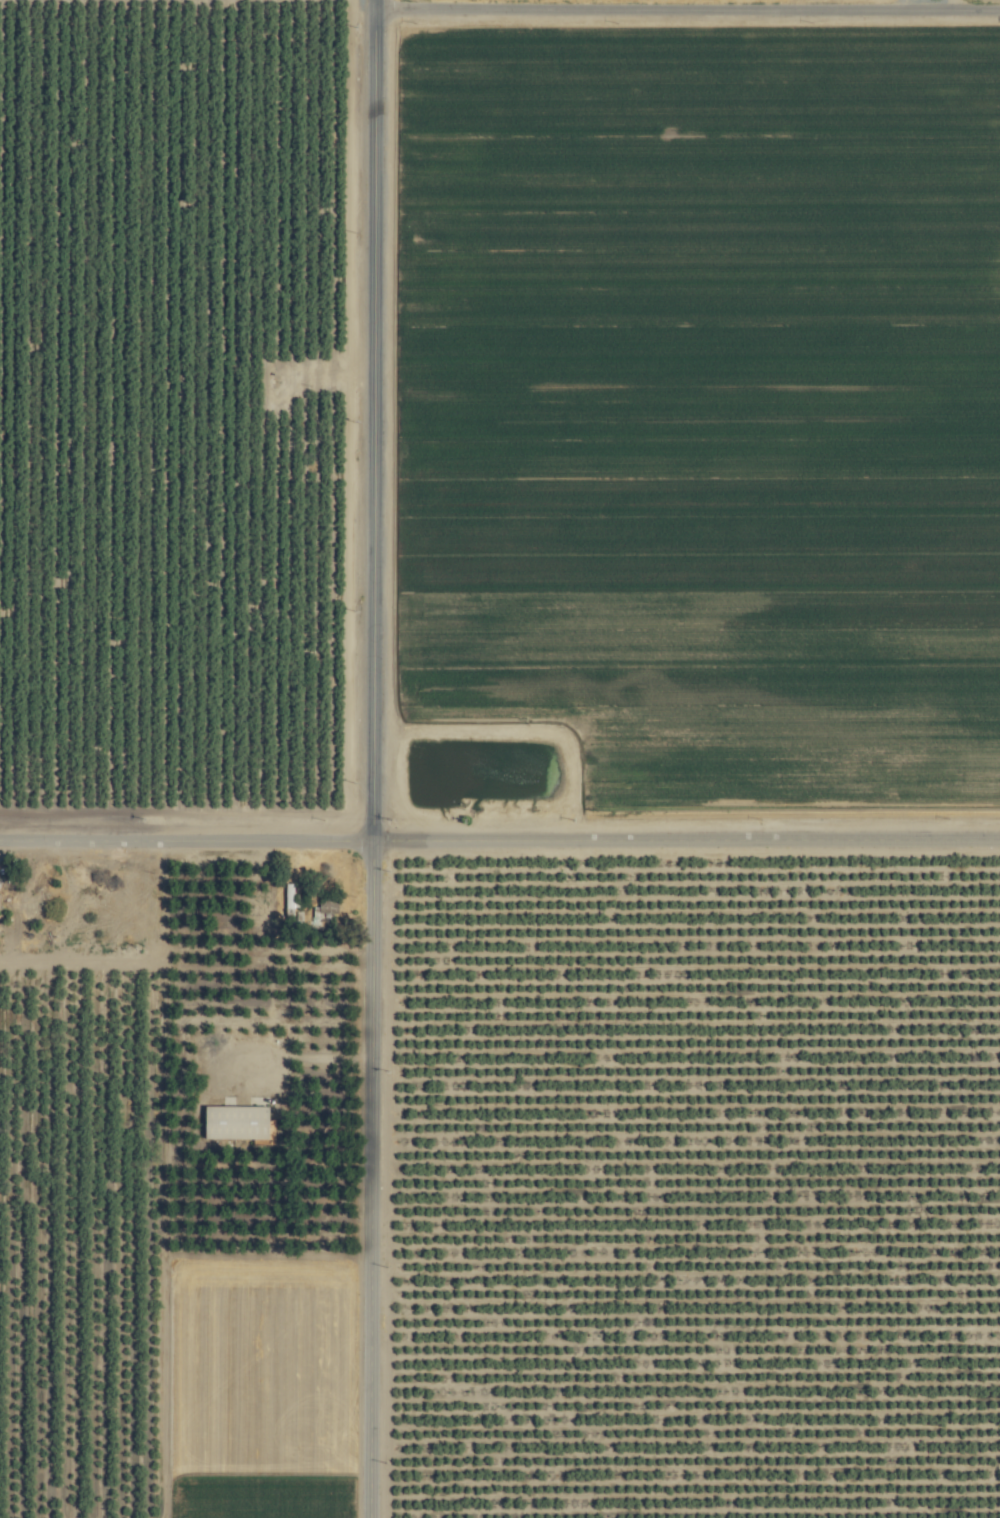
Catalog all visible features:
road: (683, 4)
road: (378, 758)
road: (499, 846)
building: (33, 897)
building: (287, 901)
building: (325, 907)
road: (325, 1065)
building: (236, 1123)

